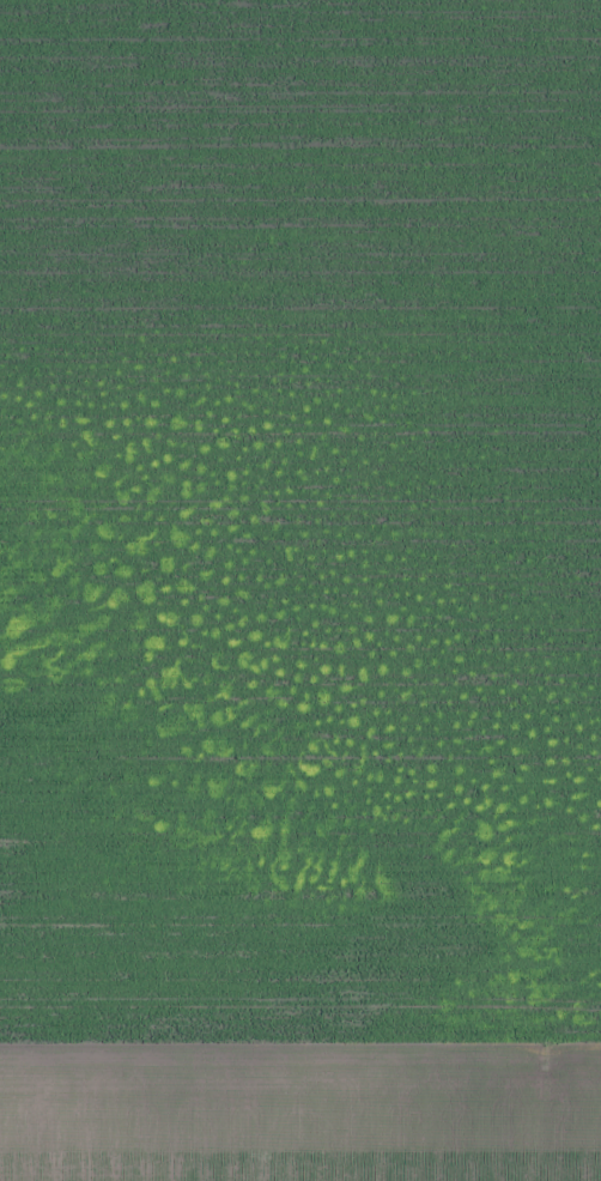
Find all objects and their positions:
crop: (300, 590)

